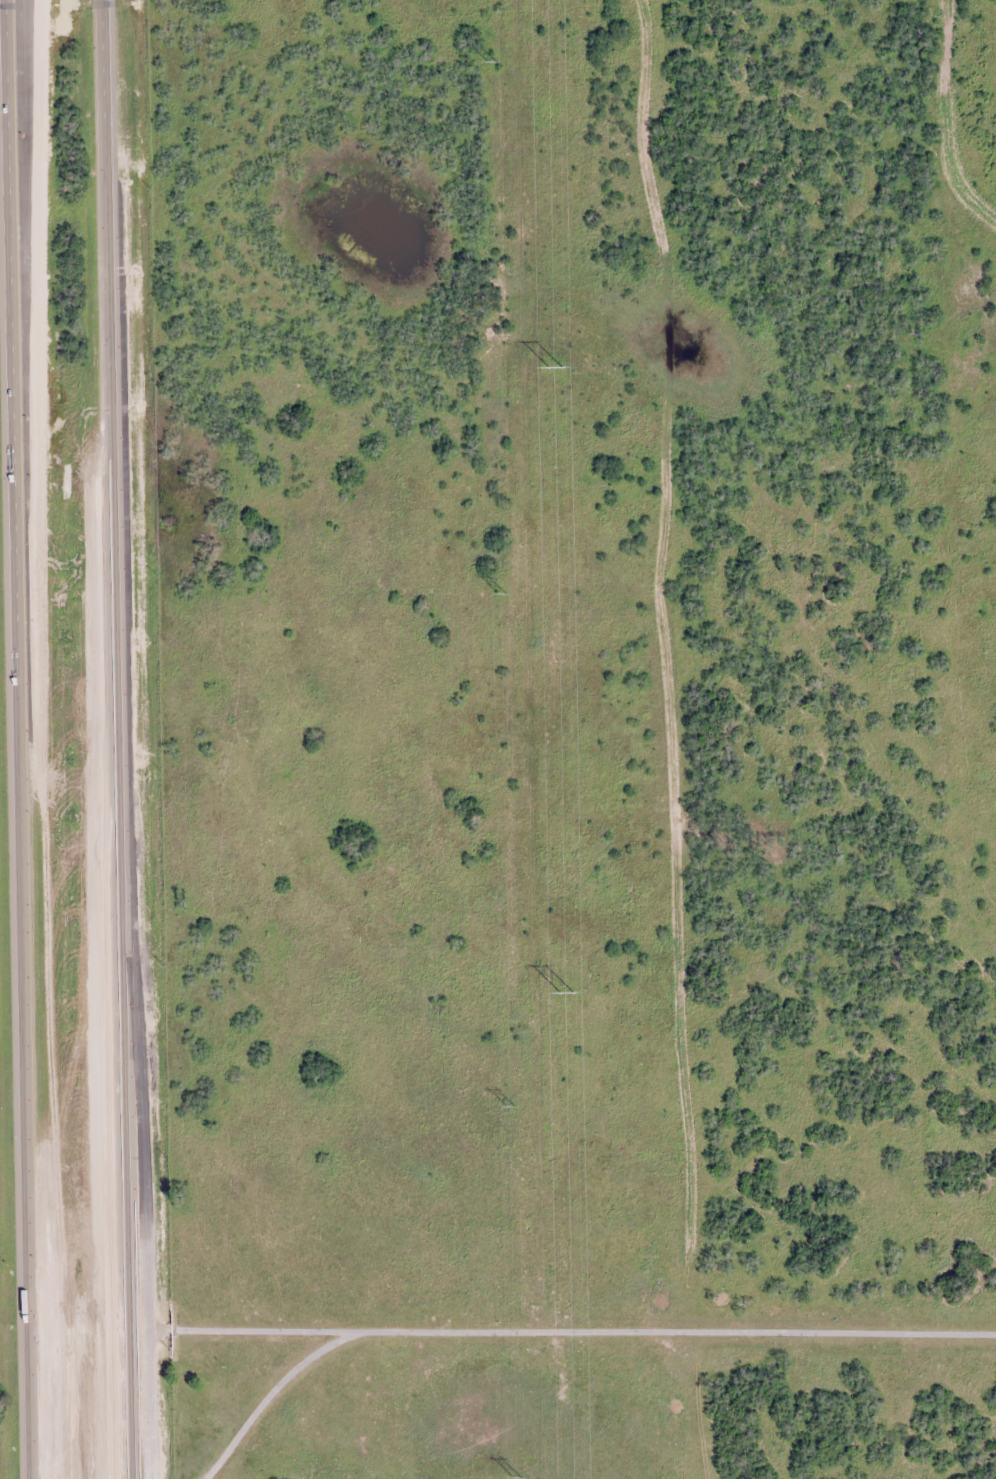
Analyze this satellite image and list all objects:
power tower: (491, 61)
road: (18, 254)
power tower: (554, 366)
power tower: (502, 593)
road: (21, 739)
road: (109, 739)
road: (128, 945)
power tower: (567, 992)
power tower: (511, 1107)
road: (569, 1299)
road: (268, 1395)
road: (148, 1404)
power tower: (517, 1478)

